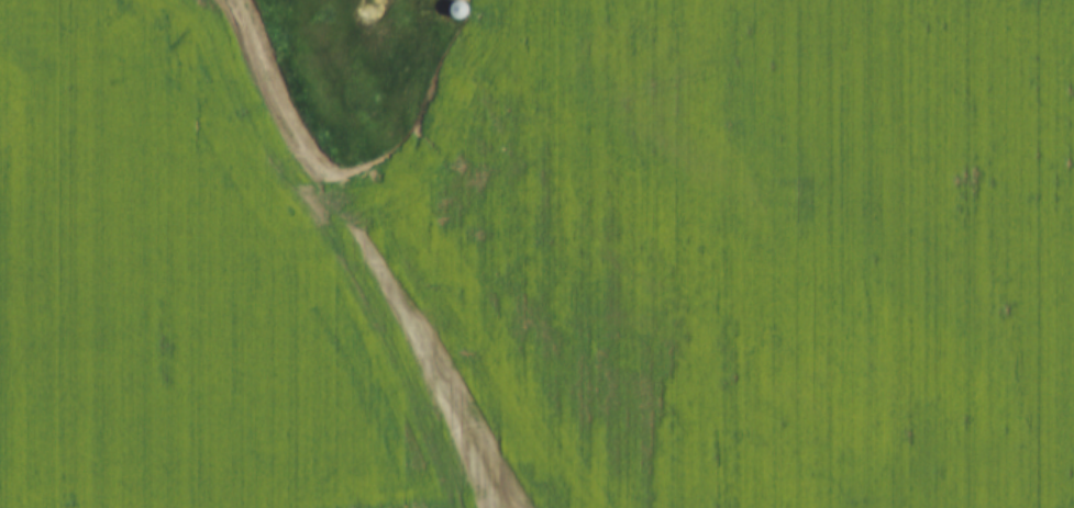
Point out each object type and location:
building: (457, 9)

